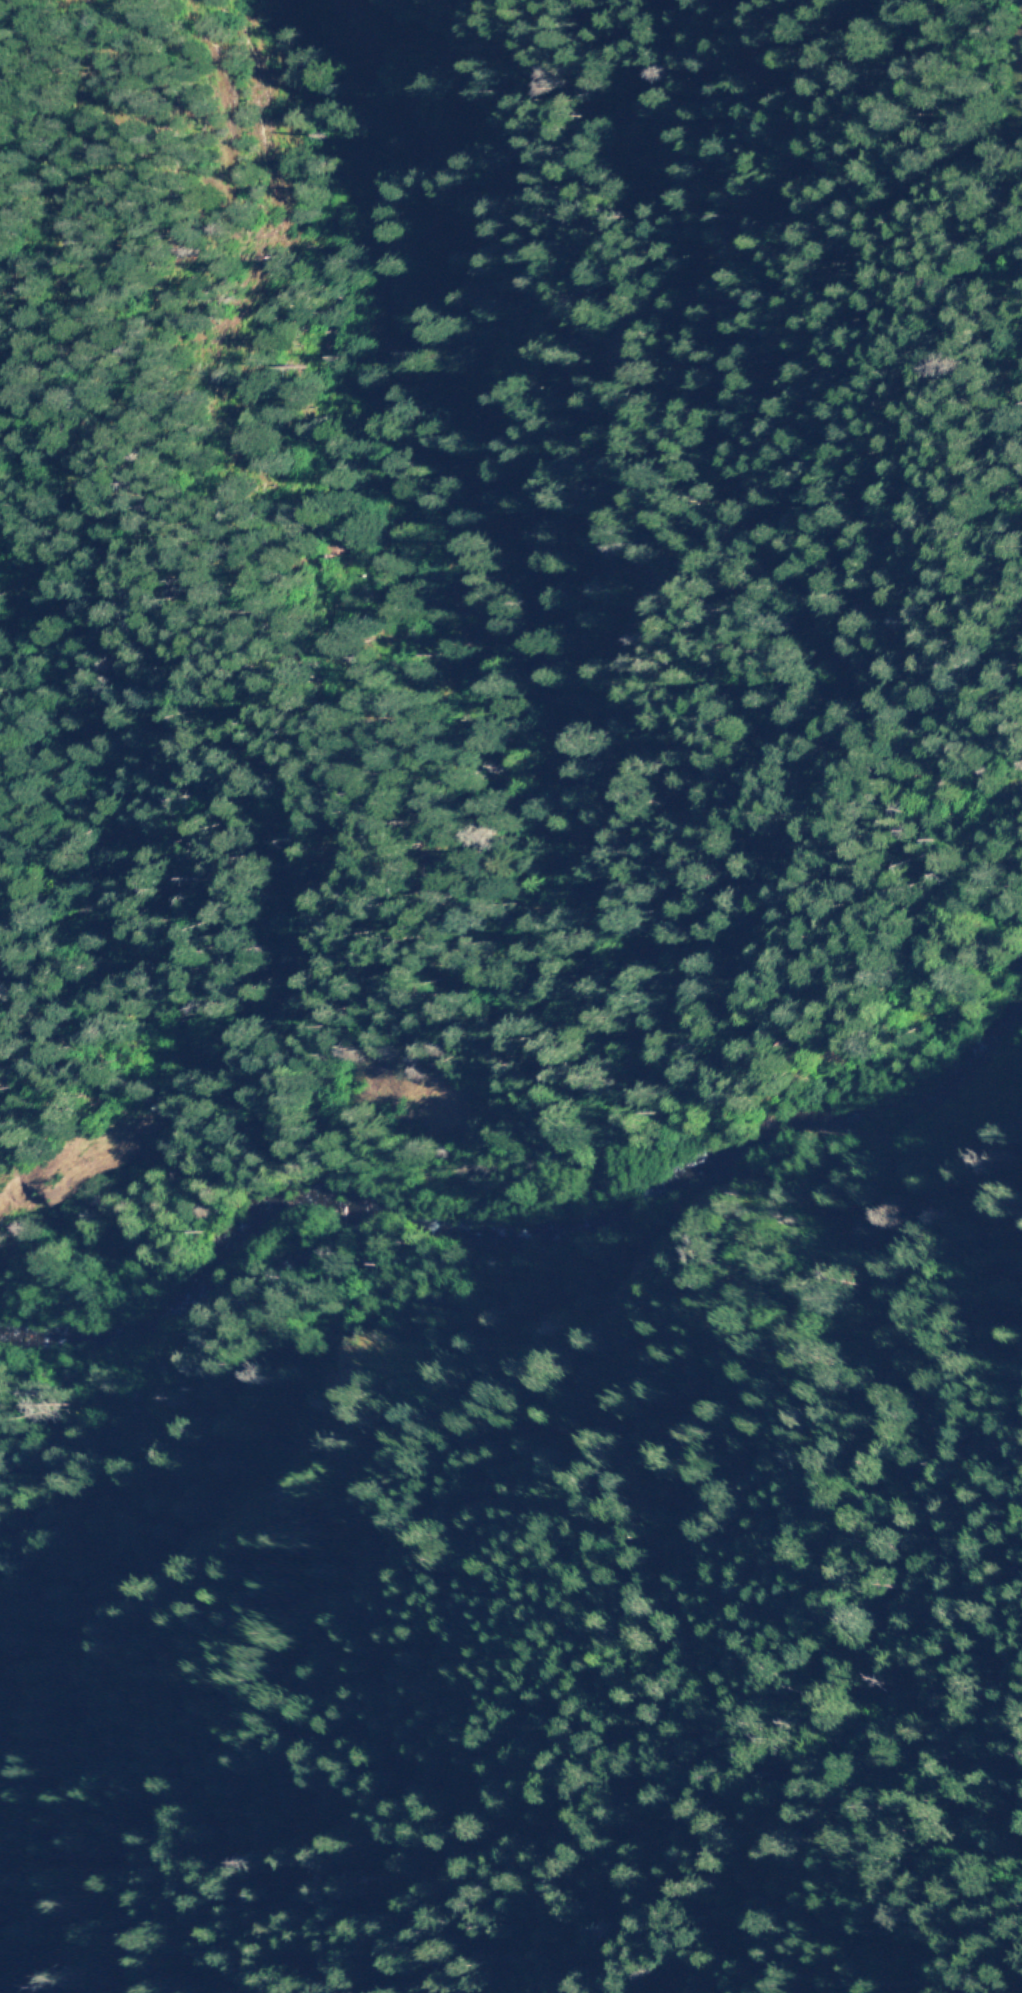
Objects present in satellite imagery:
river: (518, 1227)
road: (474, 1792)
road: (656, 1802)
road: (207, 1835)
road: (831, 1907)
road: (971, 1923)

